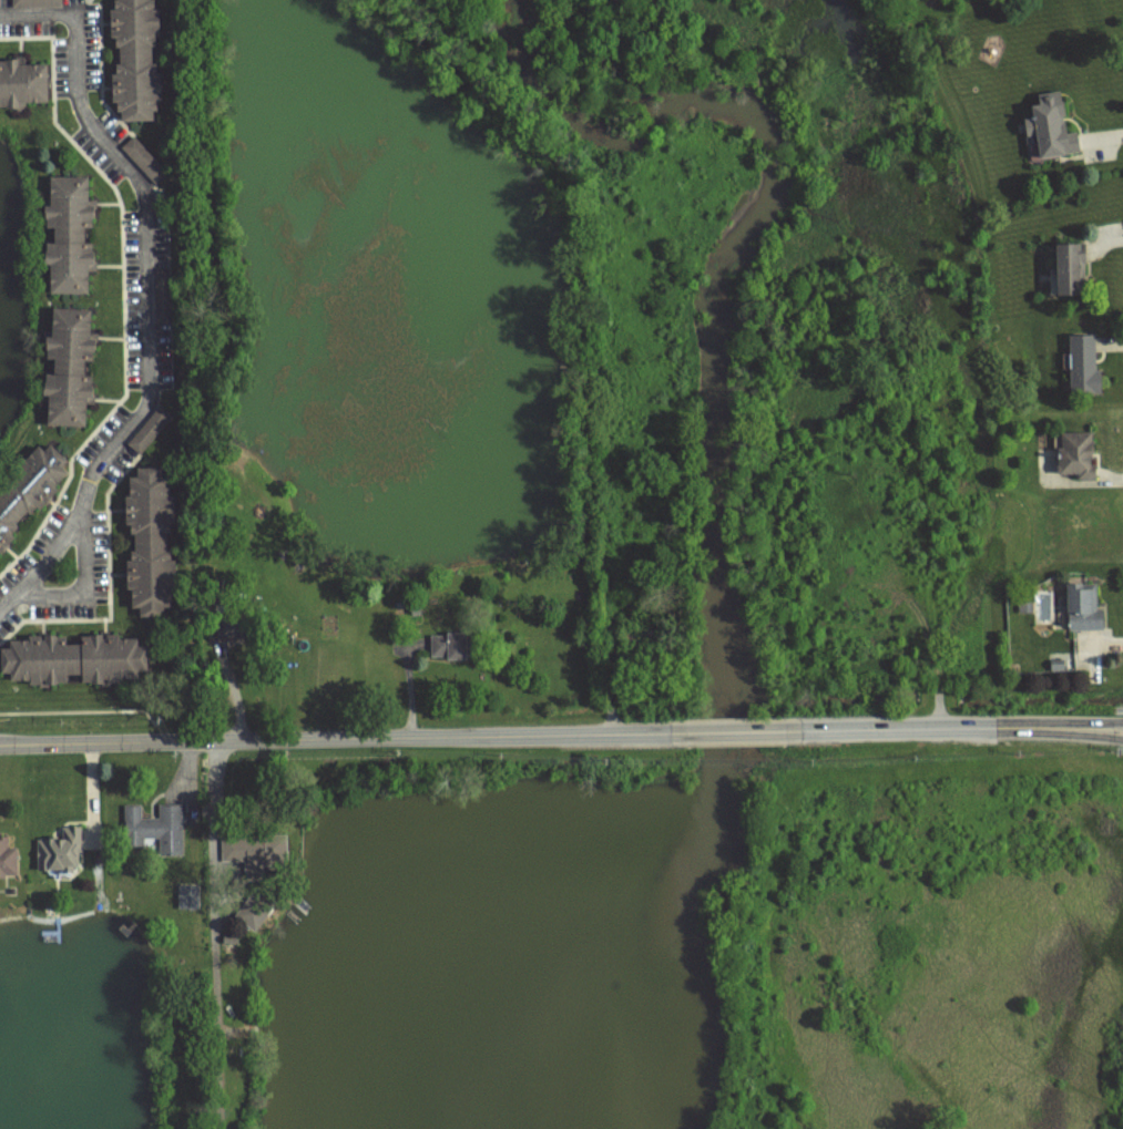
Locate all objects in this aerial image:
building: (37, 2)
road: (33, 12)
building: (140, 58)
park: (530, 72)
building: (22, 81)
building: (1055, 126)
building: (144, 157)
building: (74, 233)
building: (1073, 265)
building: (163, 297)
road: (150, 322)
building: (1085, 362)
building: (74, 365)
building: (151, 429)
building: (1073, 450)
building: (29, 487)
building: (163, 533)
road: (94, 588)
building: (1086, 605)
building: (1025, 608)
building: (415, 612)
building: (235, 623)
building: (456, 645)
building: (76, 658)
building: (1058, 665)
road: (409, 689)
road: (948, 729)
road: (1114, 729)
road: (732, 731)
road: (341, 739)
building: (159, 825)
building: (59, 849)
building: (256, 852)
building: (9, 859)
building: (177, 883)
building: (187, 896)
building: (253, 910)
road: (213, 935)
building: (228, 941)

